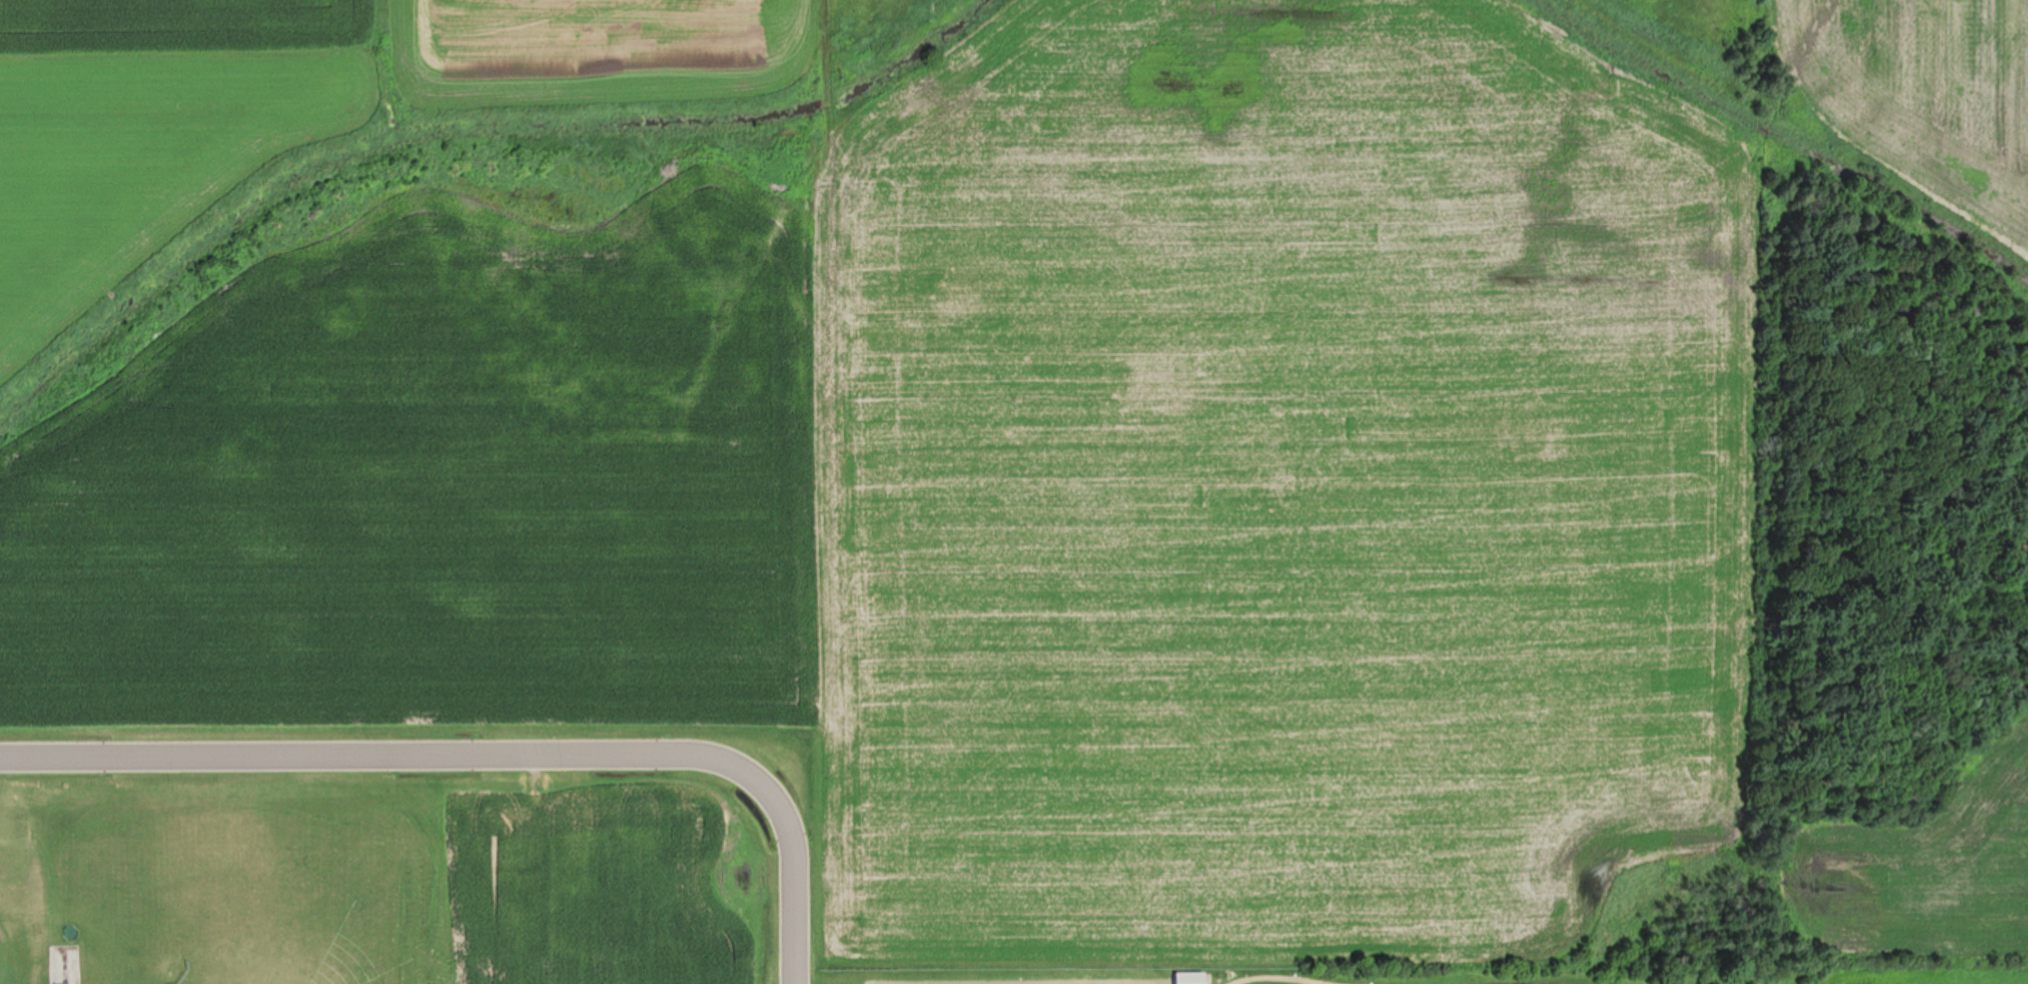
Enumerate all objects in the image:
road: (489, 751)

